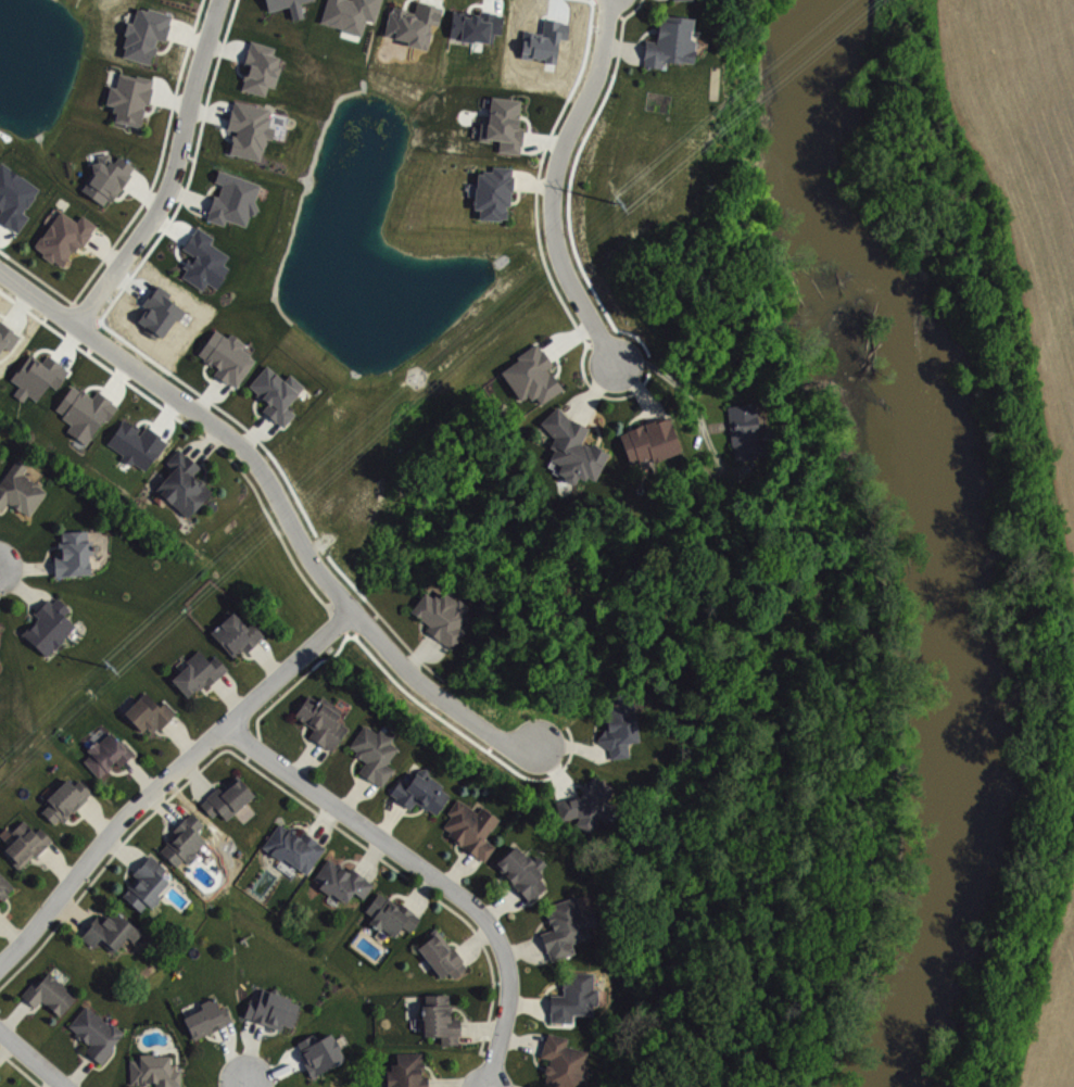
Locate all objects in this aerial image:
building: (299, 8)
building: (353, 13)
building: (417, 23)
building: (149, 34)
building: (667, 41)
road: (621, 46)
building: (264, 67)
building: (134, 98)
building: (507, 124)
building: (253, 129)
road: (177, 176)
crop: (1023, 177)
building: (110, 178)
road: (553, 184)
building: (496, 191)
building: (16, 195)
building: (237, 199)
power tower: (614, 201)
building: (66, 237)
building: (207, 260)
road: (567, 339)
building: (230, 356)
building: (530, 375)
building: (40, 376)
road: (635, 388)
road: (593, 391)
building: (279, 393)
road: (694, 407)
building: (88, 410)
building: (742, 431)
building: (647, 440)
building: (139, 443)
building: (570, 447)
building: (186, 484)
building: (22, 489)
road: (275, 501)
river: (958, 541)
building: (77, 553)
building: (445, 616)
building: (52, 625)
building: (239, 634)
building: (0, 640)
power tower: (105, 666)
building: (200, 673)
building: (153, 712)
building: (325, 721)
building: (616, 726)
road: (565, 744)
building: (378, 753)
building: (110, 754)
road: (552, 769)
road: (168, 779)
building: (425, 791)
building: (231, 797)
building: (68, 800)
building: (584, 804)
building: (473, 827)
building: (187, 840)
building: (28, 843)
building: (298, 847)
building: (526, 872)
road: (426, 874)
building: (344, 880)
building: (149, 883)
building: (5, 886)
building: (394, 914)
building: (569, 927)
building: (111, 931)
building: (445, 956)
building: (53, 994)
building: (577, 997)
crop: (1052, 999)
building: (276, 1009)
building: (211, 1018)
building: (443, 1019)
building: (99, 1032)
building: (323, 1052)
road: (34, 1058)
building: (565, 1062)
building: (157, 1071)
building: (410, 1071)

